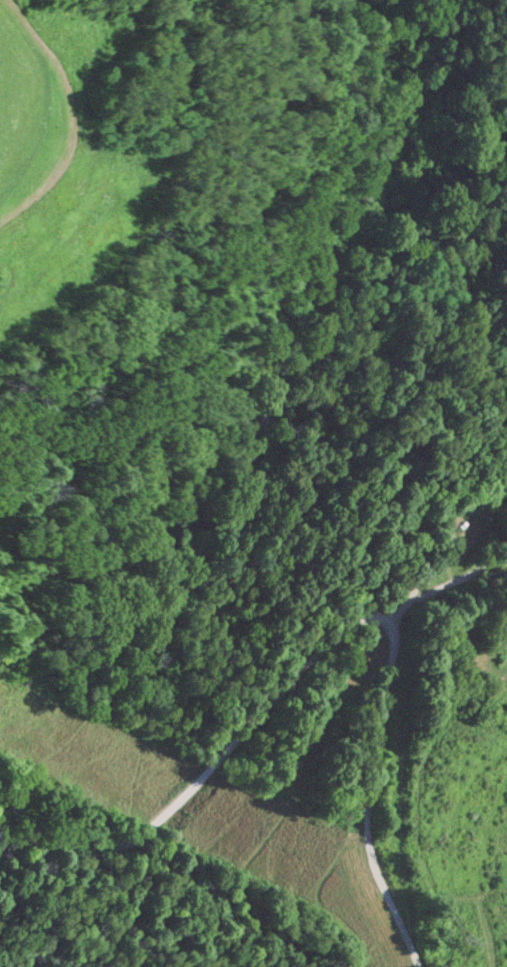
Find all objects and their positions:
road: (334, 638)

